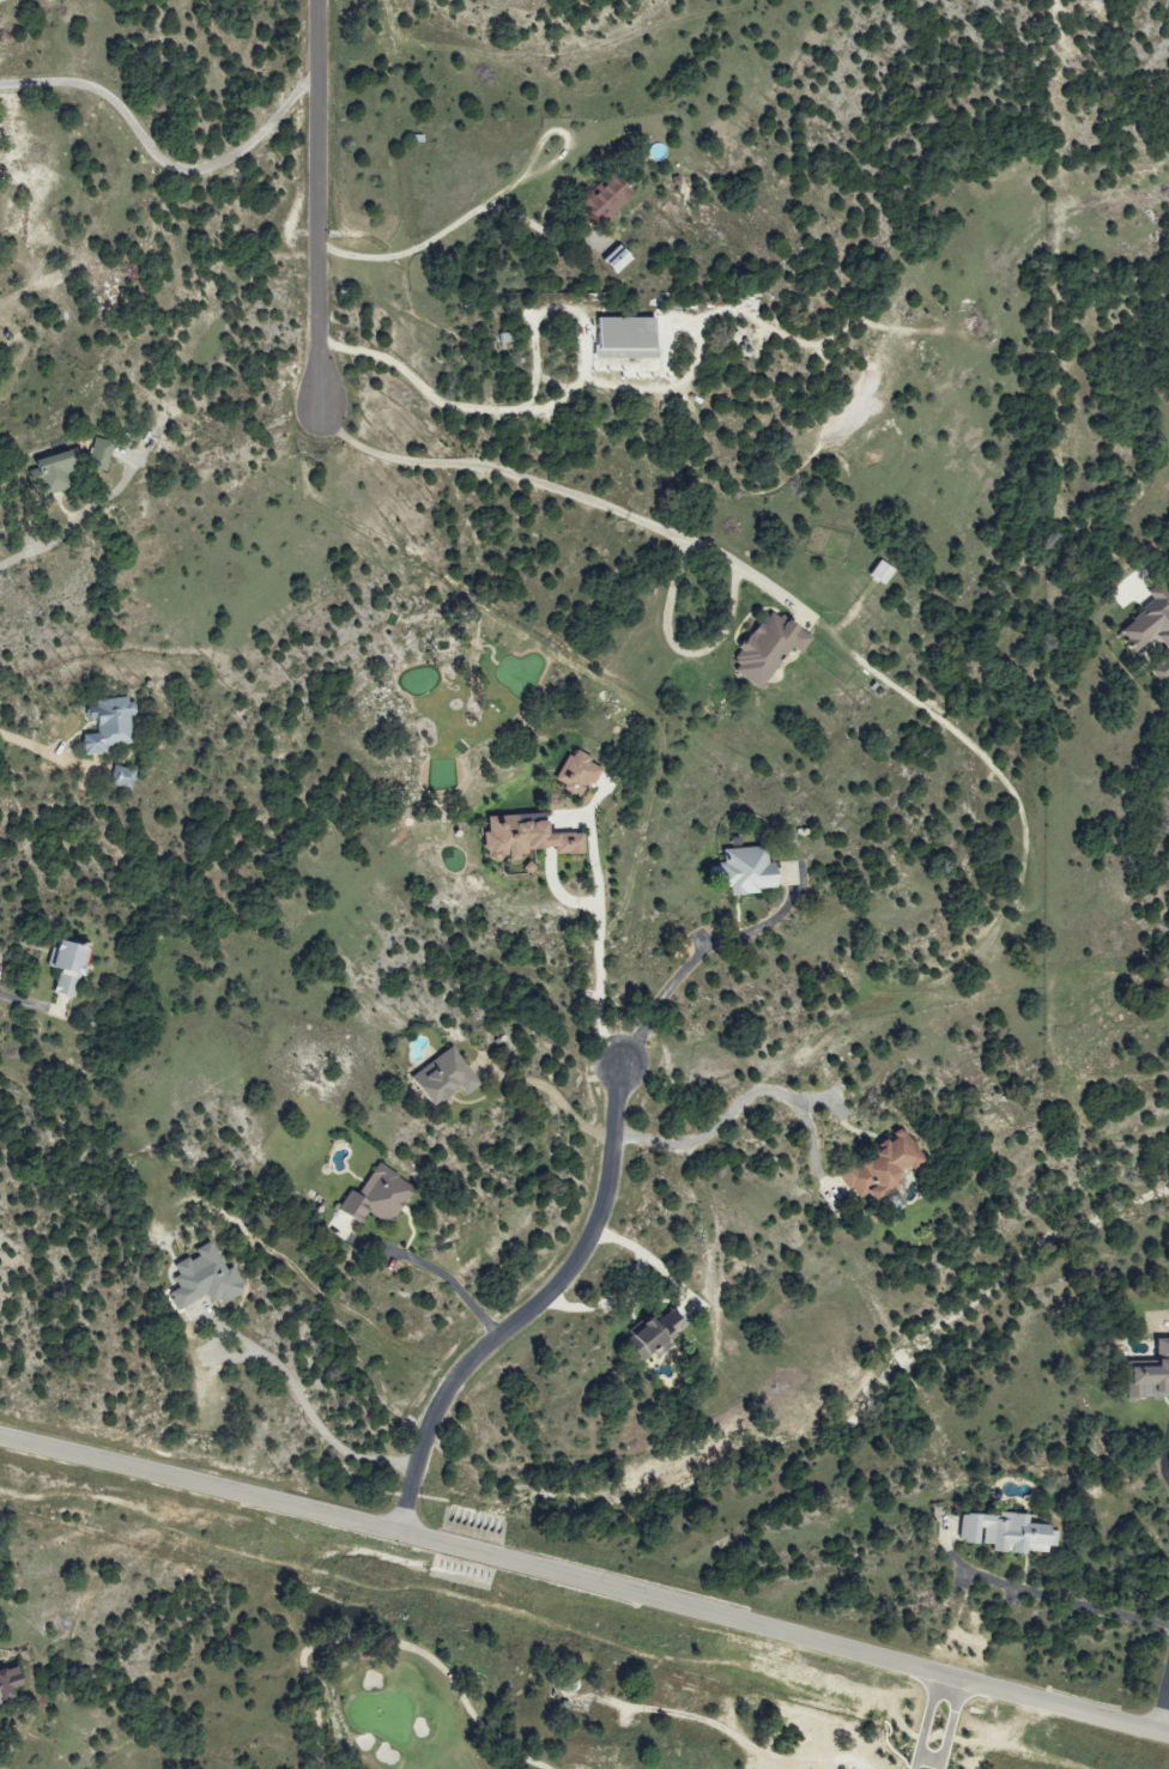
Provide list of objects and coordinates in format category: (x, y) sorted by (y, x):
road: (160, 155)
building: (608, 200)
road: (317, 204)
road: (438, 230)
building: (620, 259)
building: (630, 339)
road: (549, 404)
building: (101, 454)
building: (54, 473)
road: (557, 491)
road: (42, 547)
building: (877, 571)
building: (1151, 629)
building: (764, 648)
building: (105, 725)
road: (37, 749)
building: (574, 774)
building: (120, 777)
building: (522, 836)
building: (741, 871)
road: (598, 929)
road: (685, 964)
building: (63, 967)
road: (23, 995)
building: (437, 1077)
road: (552, 1096)
road: (714, 1127)
building: (880, 1165)
building: (374, 1197)
building: (201, 1279)
road: (460, 1284)
road: (526, 1313)
building: (648, 1337)
building: (1146, 1373)
road: (316, 1416)
road: (1162, 1459)
building: (1003, 1533)
road: (584, 1586)
road: (1052, 1597)
road: (537, 1623)
building: (11, 1684)
road: (1162, 1706)

